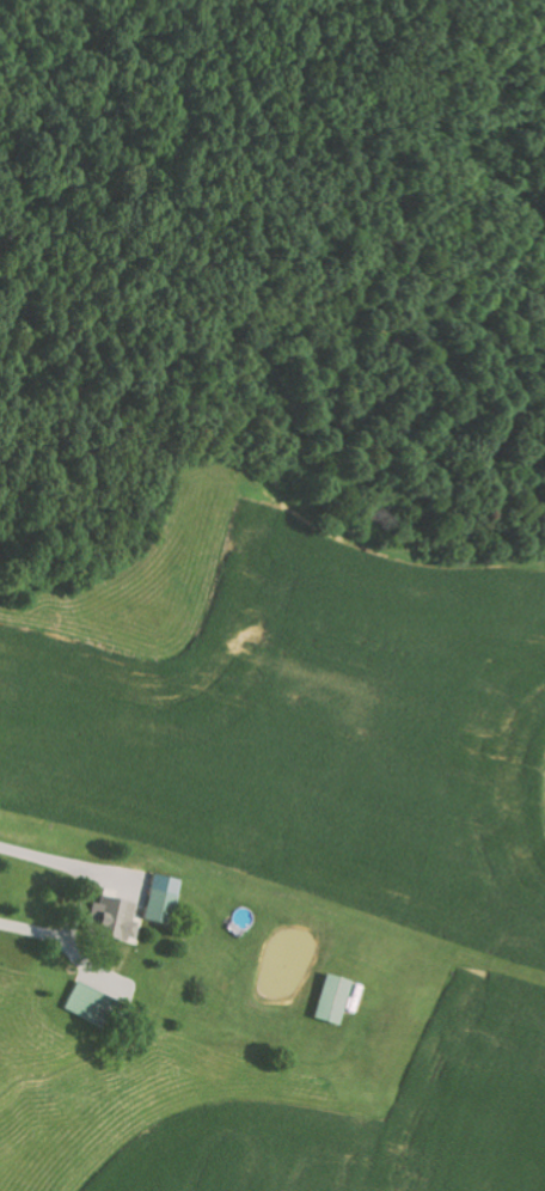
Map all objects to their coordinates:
building: (157, 896)
building: (110, 918)
building: (81, 1002)

